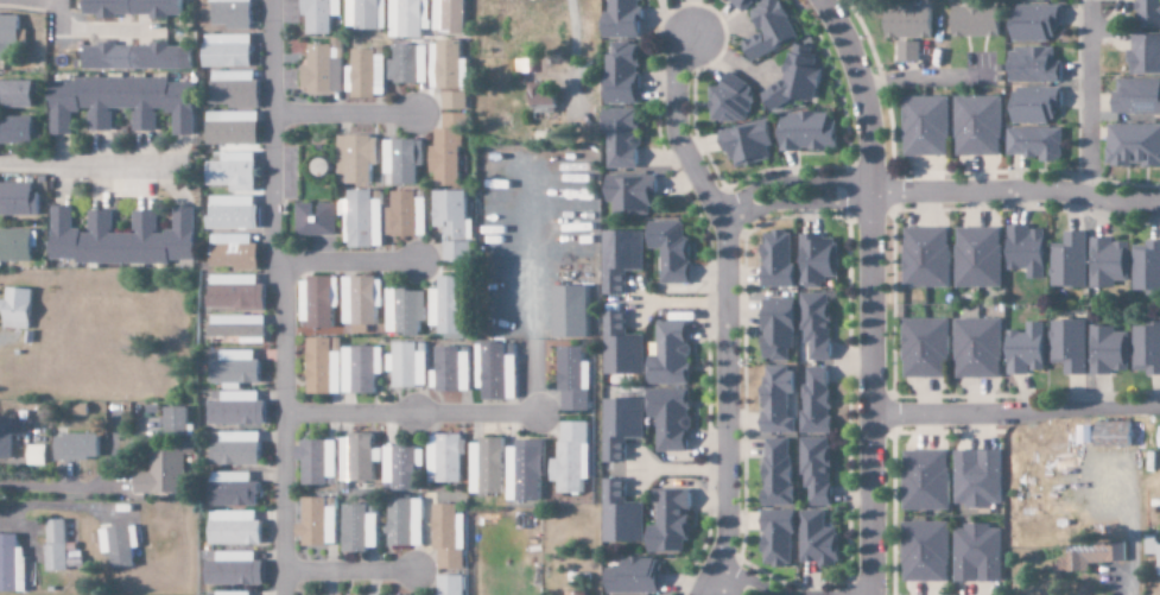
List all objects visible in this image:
building: (1031, 0)
road: (42, 1)
building: (739, 5)
building: (135, 8)
building: (1147, 13)
building: (233, 14)
building: (366, 14)
road: (56, 15)
building: (321, 15)
building: (450, 15)
building: (407, 19)
building: (617, 20)
building: (904, 21)
building: (970, 23)
building: (1032, 23)
building: (765, 30)
building: (9, 32)
building: (228, 51)
building: (905, 52)
building: (1142, 56)
building: (139, 57)
building: (450, 65)
building: (1029, 67)
building: (324, 68)
building: (369, 72)
building: (617, 75)
building: (791, 80)
building: (235, 89)
building: (15, 94)
building: (537, 95)
building: (1134, 97)
road: (1085, 99)
building: (455, 101)
building: (728, 101)
building: (122, 103)
building: (1032, 105)
road: (341, 113)
building: (923, 126)
building: (975, 126)
building: (17, 131)
building: (804, 133)
building: (617, 138)
building: (1032, 144)
building: (743, 145)
building: (1132, 146)
building: (233, 150)
building: (449, 152)
building: (359, 158)
building: (402, 162)
road: (938, 191)
building: (627, 195)
building: (18, 201)
building: (234, 213)
building: (454, 214)
building: (407, 215)
building: (365, 219)
building: (316, 220)
building: (123, 239)
building: (15, 245)
building: (667, 251)
building: (1025, 251)
building: (234, 252)
building: (458, 252)
building: (923, 258)
building: (976, 258)
building: (617, 259)
building: (774, 260)
building: (814, 260)
road: (342, 262)
building: (1066, 262)
building: (1105, 262)
building: (1146, 267)
building: (236, 292)
road: (868, 292)
road: (273, 297)
building: (318, 302)
building: (360, 303)
building: (449, 308)
building: (18, 309)
building: (405, 311)
building: (565, 312)
road: (723, 315)
building: (813, 325)
building: (240, 328)
building: (773, 330)
building: (1066, 346)
building: (617, 348)
building: (923, 348)
building: (975, 349)
building: (1145, 349)
building: (1023, 350)
building: (1105, 352)
building: (667, 355)
building: (325, 366)
building: (408, 366)
building: (237, 368)
building: (362, 369)
building: (452, 369)
building: (497, 371)
building: (570, 381)
building: (773, 399)
building: (812, 401)
building: (239, 410)
road: (1015, 410)
road: (407, 413)
building: (667, 418)
building: (177, 422)
building: (617, 428)
building: (1108, 433)
building: (1080, 435)
building: (9, 437)
building: (1156, 438)
building: (78, 445)
building: (237, 449)
building: (38, 456)
building: (446, 457)
building: (359, 458)
building: (569, 458)
building: (318, 461)
building: (402, 467)
building: (488, 467)
building: (813, 470)
building: (524, 471)
building: (163, 473)
building: (774, 473)
building: (974, 479)
building: (923, 481)
building: (235, 490)
building: (617, 515)
building: (319, 523)
building: (406, 523)
building: (666, 523)
building: (361, 527)
building: (236, 528)
road: (1130, 531)
building: (450, 537)
building: (773, 538)
building: (814, 540)
building: (120, 544)
building: (56, 545)
building: (1152, 551)
building: (921, 552)
building: (975, 555)
building: (1088, 557)
building: (9, 565)
building: (236, 569)
road: (347, 571)
building: (630, 577)
road: (730, 583)
building: (452, 584)
building: (234, 593)
building: (577, 593)

